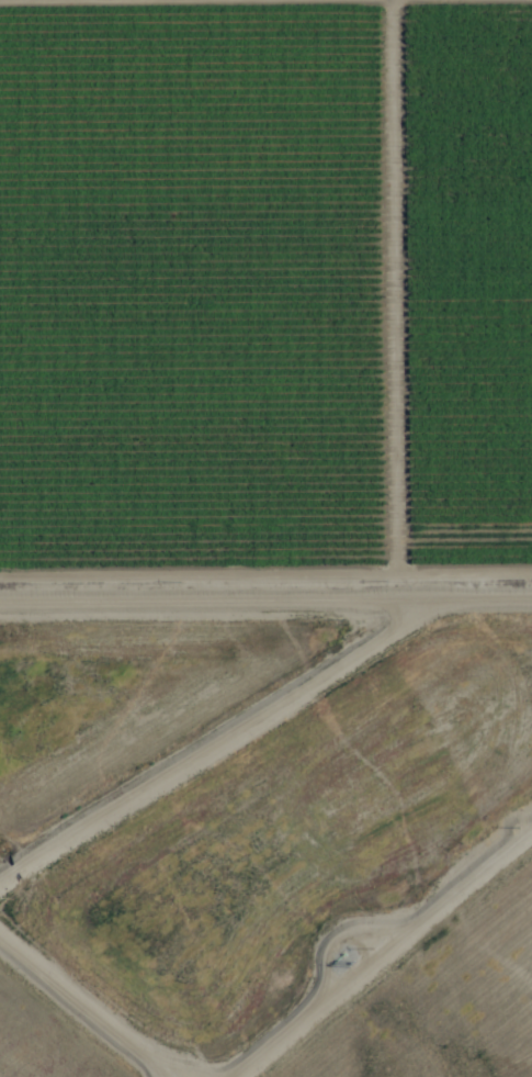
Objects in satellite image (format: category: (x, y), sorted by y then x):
crop: (265, 289)

